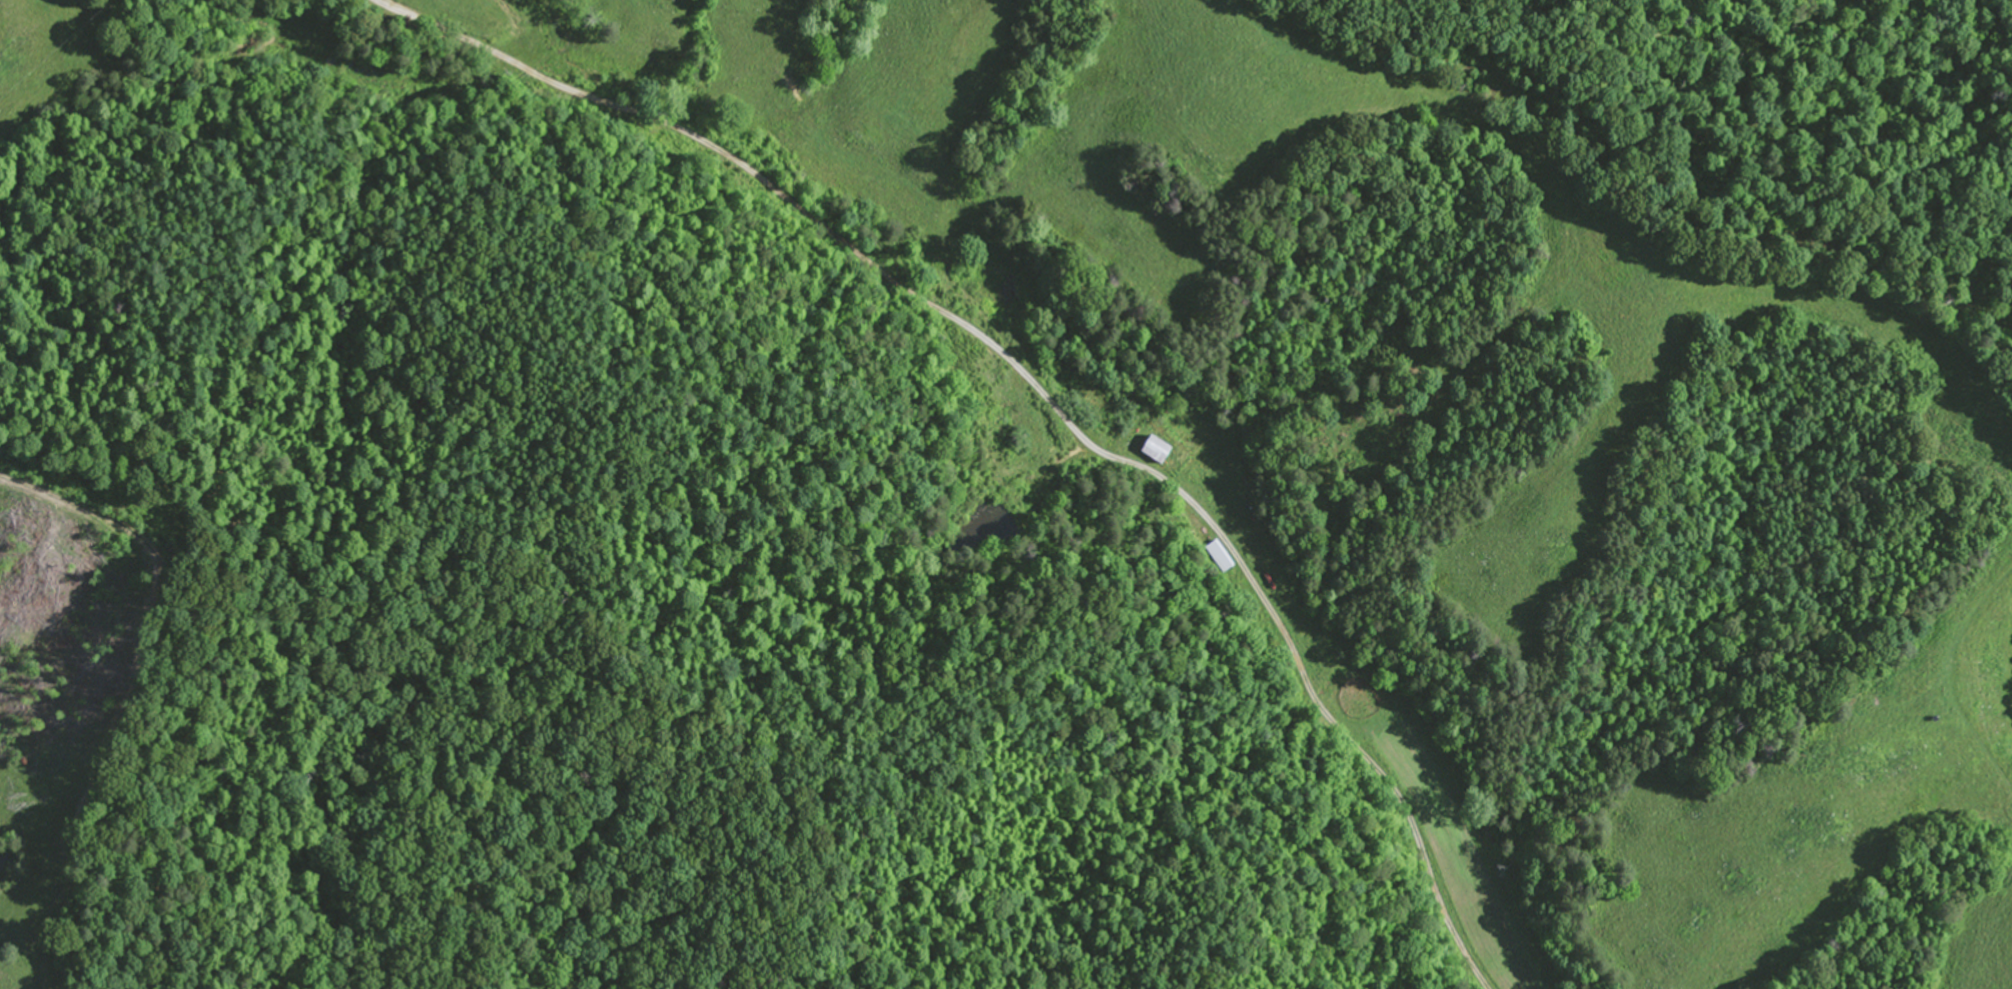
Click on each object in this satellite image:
road: (1038, 391)
building: (1154, 450)

